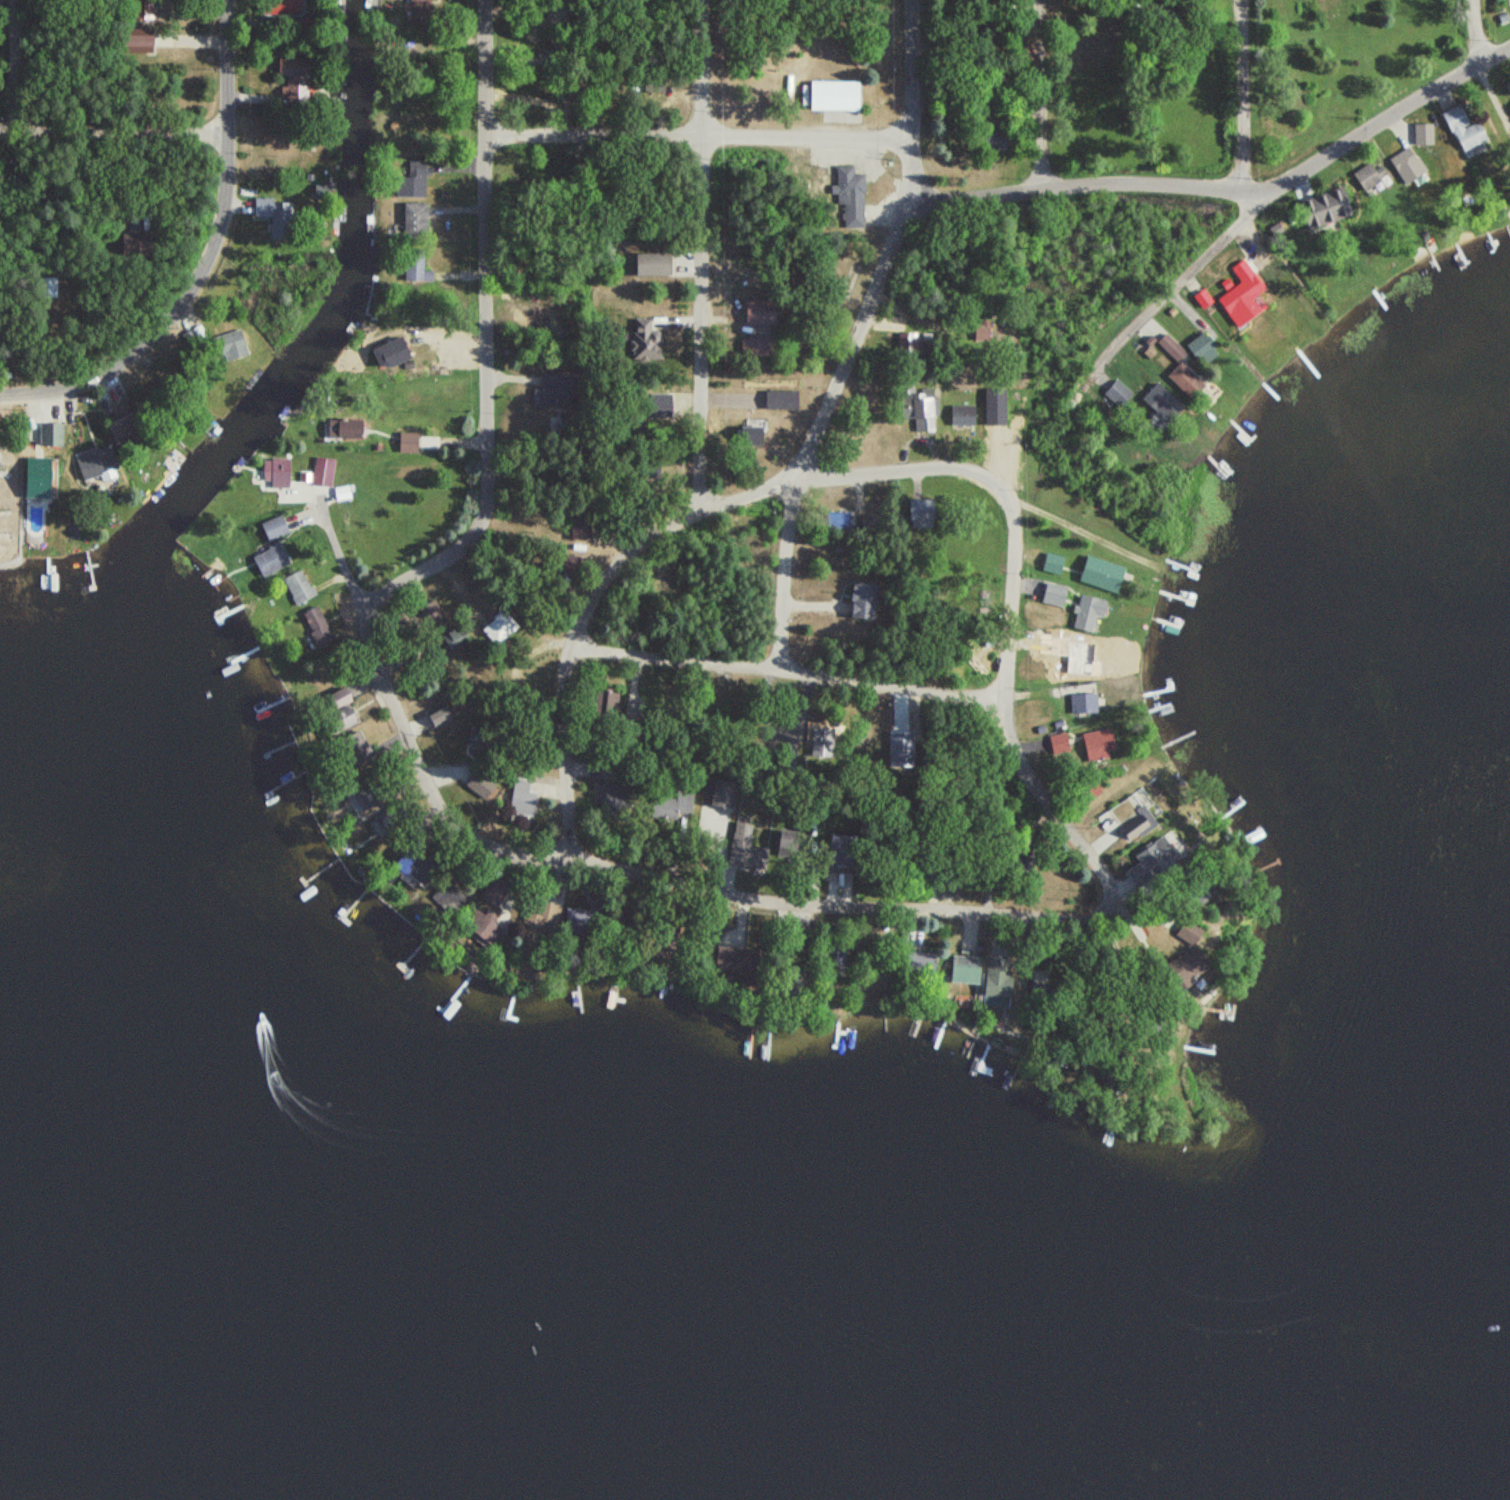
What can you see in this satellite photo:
building: (1153, 7)
road: (1478, 28)
road: (10, 63)
road: (489, 63)
road: (913, 64)
building: (290, 72)
road: (1495, 89)
building: (833, 91)
road: (1042, 93)
road: (1376, 124)
road: (114, 128)
road: (700, 129)
building: (1463, 131)
building: (996, 133)
building: (1411, 149)
road: (1238, 166)
road: (909, 171)
building: (411, 182)
road: (1070, 184)
building: (849, 190)
building: (271, 209)
building: (1317, 210)
building: (413, 221)
road: (703, 253)
road: (207, 258)
building: (655, 266)
building: (414, 267)
road: (1176, 279)
building: (1244, 284)
building: (48, 289)
building: (645, 340)
building: (905, 340)
building: (226, 348)
building: (1179, 371)
road: (489, 385)
building: (552, 390)
road: (833, 391)
building: (1160, 403)
building: (993, 409)
building: (918, 410)
building: (962, 417)
building: (342, 431)
building: (116, 433)
building: (46, 437)
building: (93, 467)
building: (274, 472)
building: (37, 479)
building: (837, 522)
building: (577, 526)
building: (273, 529)
building: (1054, 557)
building: (270, 559)
road: (342, 563)
building: (568, 565)
building: (1102, 568)
road: (787, 573)
building: (297, 587)
building: (1056, 588)
building: (857, 601)
building: (1089, 606)
building: (316, 626)
building: (454, 636)
building: (1067, 640)
road: (572, 649)
building: (1094, 653)
building: (1077, 657)
road: (791, 668)
building: (1083, 705)
building: (436, 719)
building: (1098, 746)
building: (1086, 790)
building: (716, 794)
building: (670, 808)
building: (1132, 828)
building: (743, 849)
building: (1151, 857)
road: (986, 908)
building: (471, 924)
building: (1181, 932)
building: (827, 952)
building: (724, 959)
building: (958, 969)
building: (991, 977)
building: (1036, 983)

